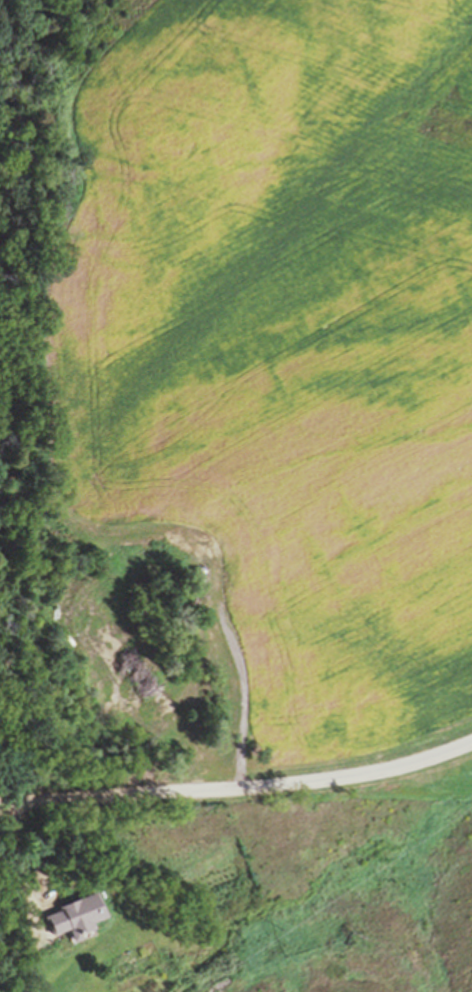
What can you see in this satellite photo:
road: (238, 787)
building: (36, 886)
road: (24, 912)
building: (371, 955)
building: (77, 982)

